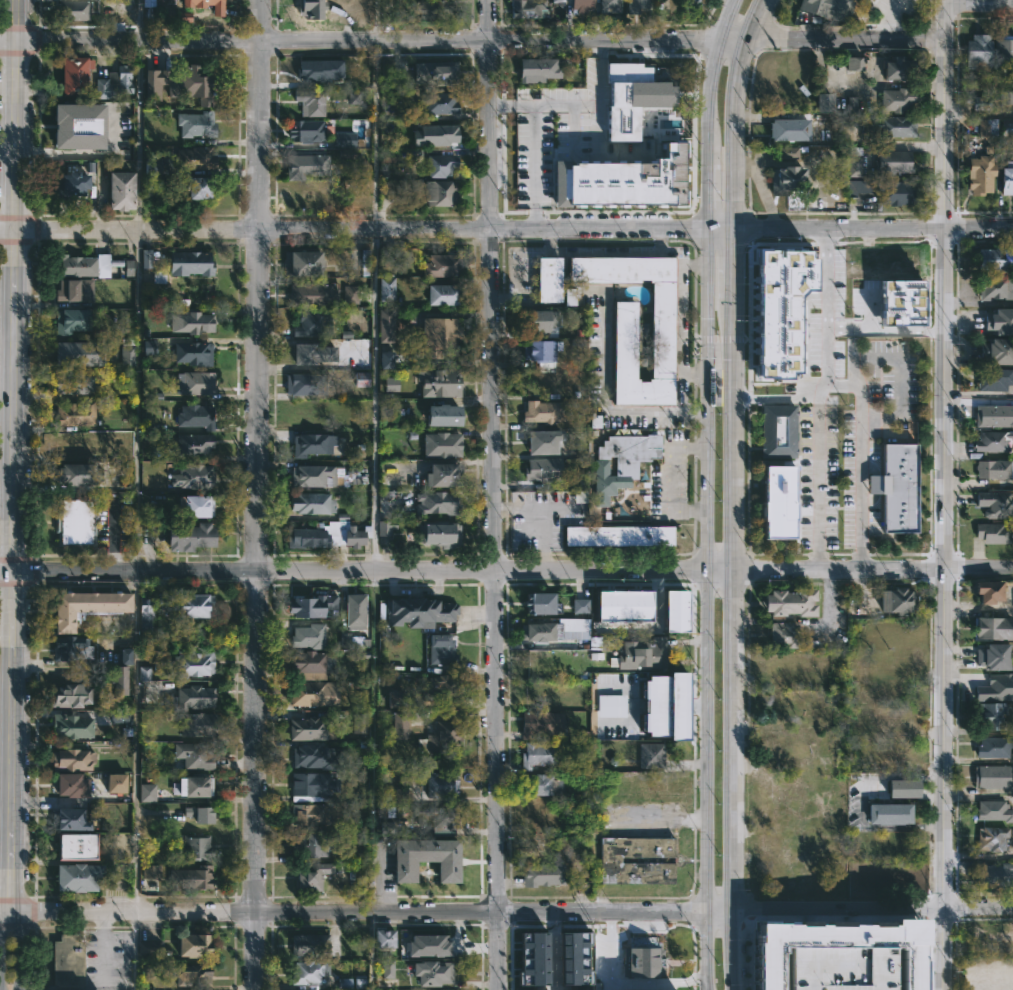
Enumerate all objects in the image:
building: (169, 0)
building: (693, 3)
road: (979, 3)
building: (557, 4)
building: (611, 5)
building: (582, 6)
building: (636, 6)
building: (829, 8)
building: (149, 9)
building: (359, 9)
building: (528, 9)
building: (73, 10)
building: (433, 10)
building: (218, 11)
road: (888, 18)
road: (732, 40)
road: (846, 40)
road: (358, 41)
building: (1004, 48)
building: (980, 50)
building: (854, 63)
building: (540, 68)
building: (901, 68)
building: (320, 70)
building: (75, 76)
building: (439, 76)
building: (114, 83)
building: (194, 88)
building: (355, 97)
road: (601, 97)
building: (633, 97)
building: (1006, 97)
building: (898, 100)
building: (311, 101)
building: (828, 102)
building: (981, 103)
road: (543, 105)
building: (433, 106)
road: (979, 114)
building: (848, 116)
building: (196, 123)
building: (892, 125)
building: (78, 126)
building: (1007, 126)
building: (986, 128)
building: (791, 129)
building: (307, 131)
building: (440, 134)
building: (344, 139)
building: (854, 151)
building: (788, 152)
road: (623, 154)
building: (195, 157)
building: (896, 161)
building: (156, 166)
building: (441, 166)
building: (854, 166)
building: (308, 167)
road: (535, 168)
building: (982, 174)
building: (1008, 177)
building: (622, 181)
building: (72, 184)
building: (792, 185)
building: (199, 187)
building: (859, 187)
building: (121, 190)
building: (895, 191)
building: (440, 193)
building: (308, 195)
road: (352, 228)
road: (721, 228)
road: (841, 228)
road: (979, 228)
road: (605, 254)
building: (384, 257)
building: (995, 258)
building: (147, 260)
building: (191, 262)
building: (303, 262)
building: (896, 262)
road: (806, 264)
building: (85, 265)
building: (441, 265)
building: (129, 268)
building: (159, 276)
building: (548, 279)
building: (995, 287)
building: (385, 288)
building: (74, 289)
building: (306, 292)
building: (351, 294)
building: (445, 294)
building: (569, 297)
building: (901, 302)
building: (780, 309)
road: (839, 309)
road: (678, 318)
building: (70, 320)
building: (541, 320)
building: (1000, 321)
building: (191, 322)
building: (309, 324)
building: (804, 324)
building: (386, 325)
building: (437, 335)
building: (626, 340)
building: (148, 347)
building: (541, 351)
building: (998, 351)
building: (192, 352)
building: (80, 353)
building: (312, 353)
road: (884, 353)
building: (127, 354)
building: (386, 359)
building: (994, 378)
building: (362, 379)
building: (72, 382)
building: (193, 382)
building: (439, 382)
building: (306, 383)
road: (605, 383)
building: (392, 384)
railway: (721, 405)
building: (544, 411)
building: (308, 412)
building: (76, 414)
building: (195, 415)
building: (444, 415)
road: (858, 416)
building: (994, 416)
building: (778, 430)
building: (542, 440)
building: (994, 440)
building: (193, 444)
building: (313, 444)
building: (442, 444)
road: (13, 455)
building: (623, 462)
road: (6, 465)
building: (994, 468)
building: (542, 469)
road: (814, 474)
building: (78, 475)
building: (316, 475)
building: (157, 476)
building: (445, 476)
building: (194, 477)
building: (900, 489)
railway: (724, 492)
road: (738, 492)
road: (705, 493)
railway: (709, 493)
road: (138, 494)
road: (375, 494)
road: (493, 494)
road: (945, 494)
road: (255, 495)
building: (783, 502)
building: (313, 503)
building: (437, 504)
building: (996, 504)
building: (197, 507)
building: (75, 522)
building: (385, 527)
building: (993, 532)
road: (114, 534)
building: (329, 534)
building: (439, 534)
building: (620, 536)
building: (189, 538)
road: (979, 568)
road: (841, 569)
road: (352, 570)
road: (721, 570)
road: (859, 586)
building: (989, 591)
building: (900, 599)
building: (793, 600)
road: (828, 600)
building: (541, 603)
building: (313, 605)
building: (85, 606)
building: (580, 606)
building: (624, 606)
building: (194, 607)
building: (357, 611)
building: (674, 611)
building: (418, 612)
building: (145, 614)
building: (553, 628)
building: (993, 628)
building: (785, 632)
building: (309, 635)
building: (353, 641)
building: (72, 647)
building: (440, 648)
building: (643, 653)
building: (995, 655)
building: (125, 656)
building: (193, 662)
building: (312, 663)
building: (144, 673)
building: (119, 679)
building: (440, 688)
building: (996, 688)
building: (312, 692)
building: (71, 694)
building: (192, 697)
building: (396, 698)
building: (611, 705)
building: (990, 716)
building: (643, 722)
building: (197, 723)
building: (359, 723)
building: (401, 723)
building: (540, 723)
building: (72, 725)
building: (307, 728)
building: (440, 737)
building: (994, 747)
building: (194, 754)
building: (537, 755)
building: (651, 755)
building: (317, 757)
building: (72, 759)
building: (993, 776)
building: (116, 783)
building: (441, 784)
building: (540, 784)
building: (194, 785)
building: (313, 785)
building: (70, 786)
building: (903, 788)
building: (147, 792)
building: (402, 796)
building: (994, 810)
building: (315, 813)
building: (200, 814)
building: (889, 814)
building: (436, 815)
building: (69, 819)
road: (883, 827)
building: (994, 838)
building: (313, 844)
building: (192, 845)
building: (73, 846)
building: (427, 858)
building: (637, 860)
building: (154, 871)
building: (543, 875)
building: (995, 875)
building: (77, 876)
building: (313, 876)
building: (189, 878)
road: (720, 908)
road: (743, 908)
road: (841, 908)
road: (921, 908)
road: (980, 908)
road: (352, 912)
road: (839, 917)
road: (941, 923)
building: (993, 935)
building: (385, 938)
building: (193, 944)
building: (429, 945)
building: (313, 946)
road: (22, 948)
building: (149, 948)
road: (1, 949)
road: (553, 951)
building: (573, 956)
building: (837, 956)
building: (534, 958)
building: (66, 960)
building: (643, 961)
building: (309, 972)
building: (434, 973)
building: (192, 976)
building: (389, 976)
road: (625, 980)

